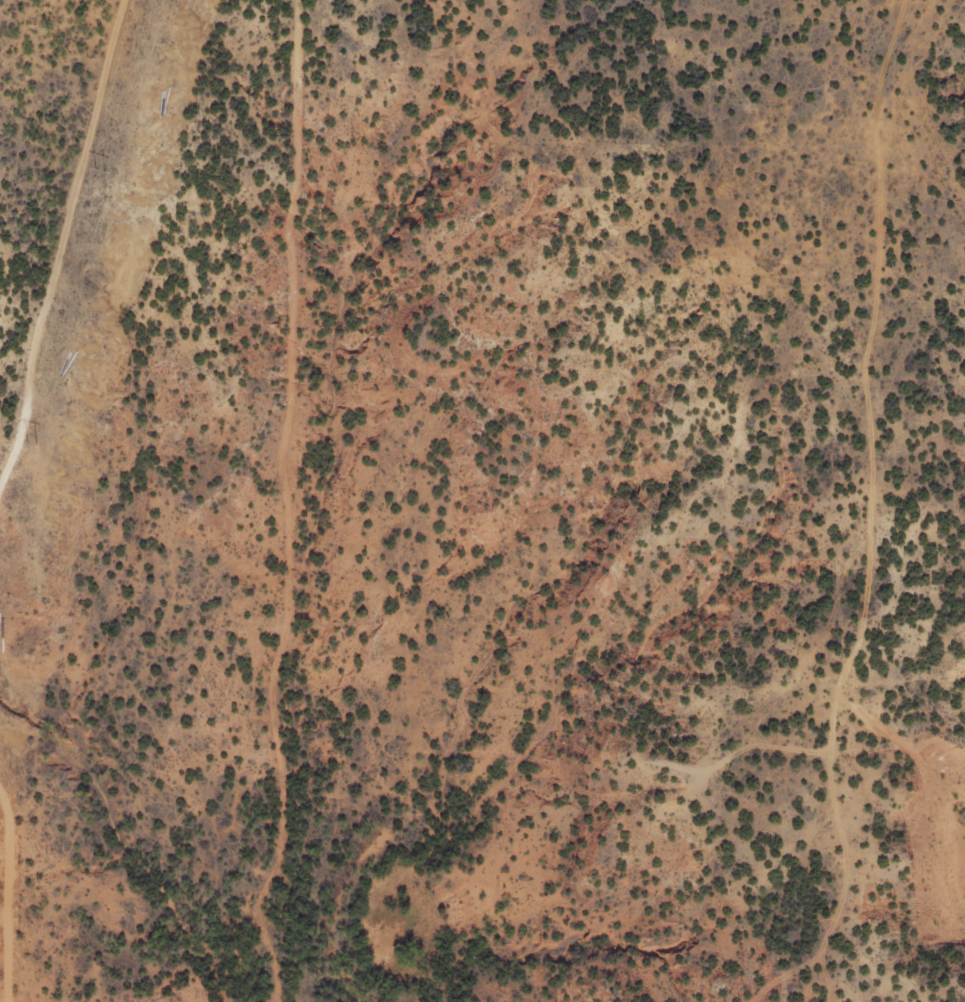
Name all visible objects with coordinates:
power tower: (104, 168)
power tower: (32, 442)

